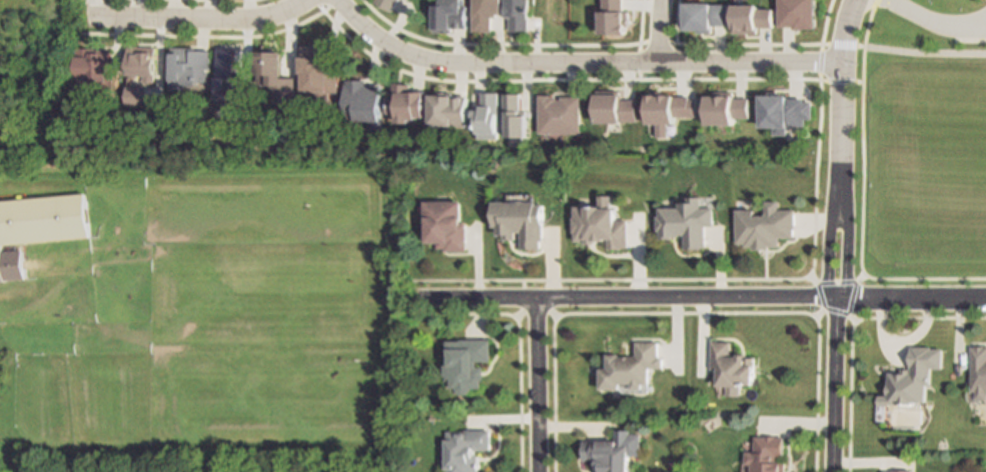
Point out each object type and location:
building: (387, 3)
building: (795, 12)
road: (946, 12)
building: (515, 14)
building: (482, 15)
building: (704, 15)
building: (750, 15)
road: (196, 20)
road: (657, 30)
road: (914, 53)
road: (575, 61)
building: (273, 80)
building: (361, 103)
building: (405, 105)
building: (616, 106)
building: (726, 109)
building: (669, 110)
building: (447, 112)
road: (838, 112)
building: (784, 113)
building: (488, 115)
building: (514, 115)
building: (557, 116)
building: (43, 217)
building: (519, 217)
building: (685, 218)
building: (443, 221)
building: (600, 223)
building: (762, 223)
road: (859, 224)
road: (826, 257)
road: (843, 257)
building: (1, 268)
building: (0, 279)
road: (910, 294)
road: (618, 297)
building: (464, 359)
building: (628, 364)
building: (730, 367)
building: (978, 367)
building: (912, 372)
road: (831, 383)
road: (533, 385)
building: (463, 448)
building: (609, 450)
building: (764, 454)
building: (895, 469)

